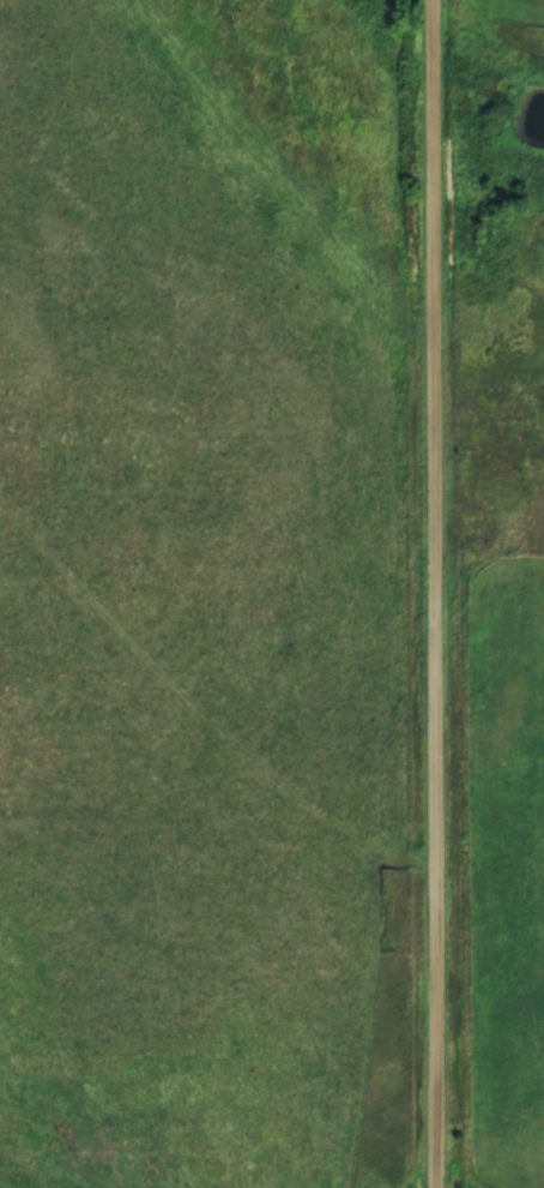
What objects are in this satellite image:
road: (434, 593)

